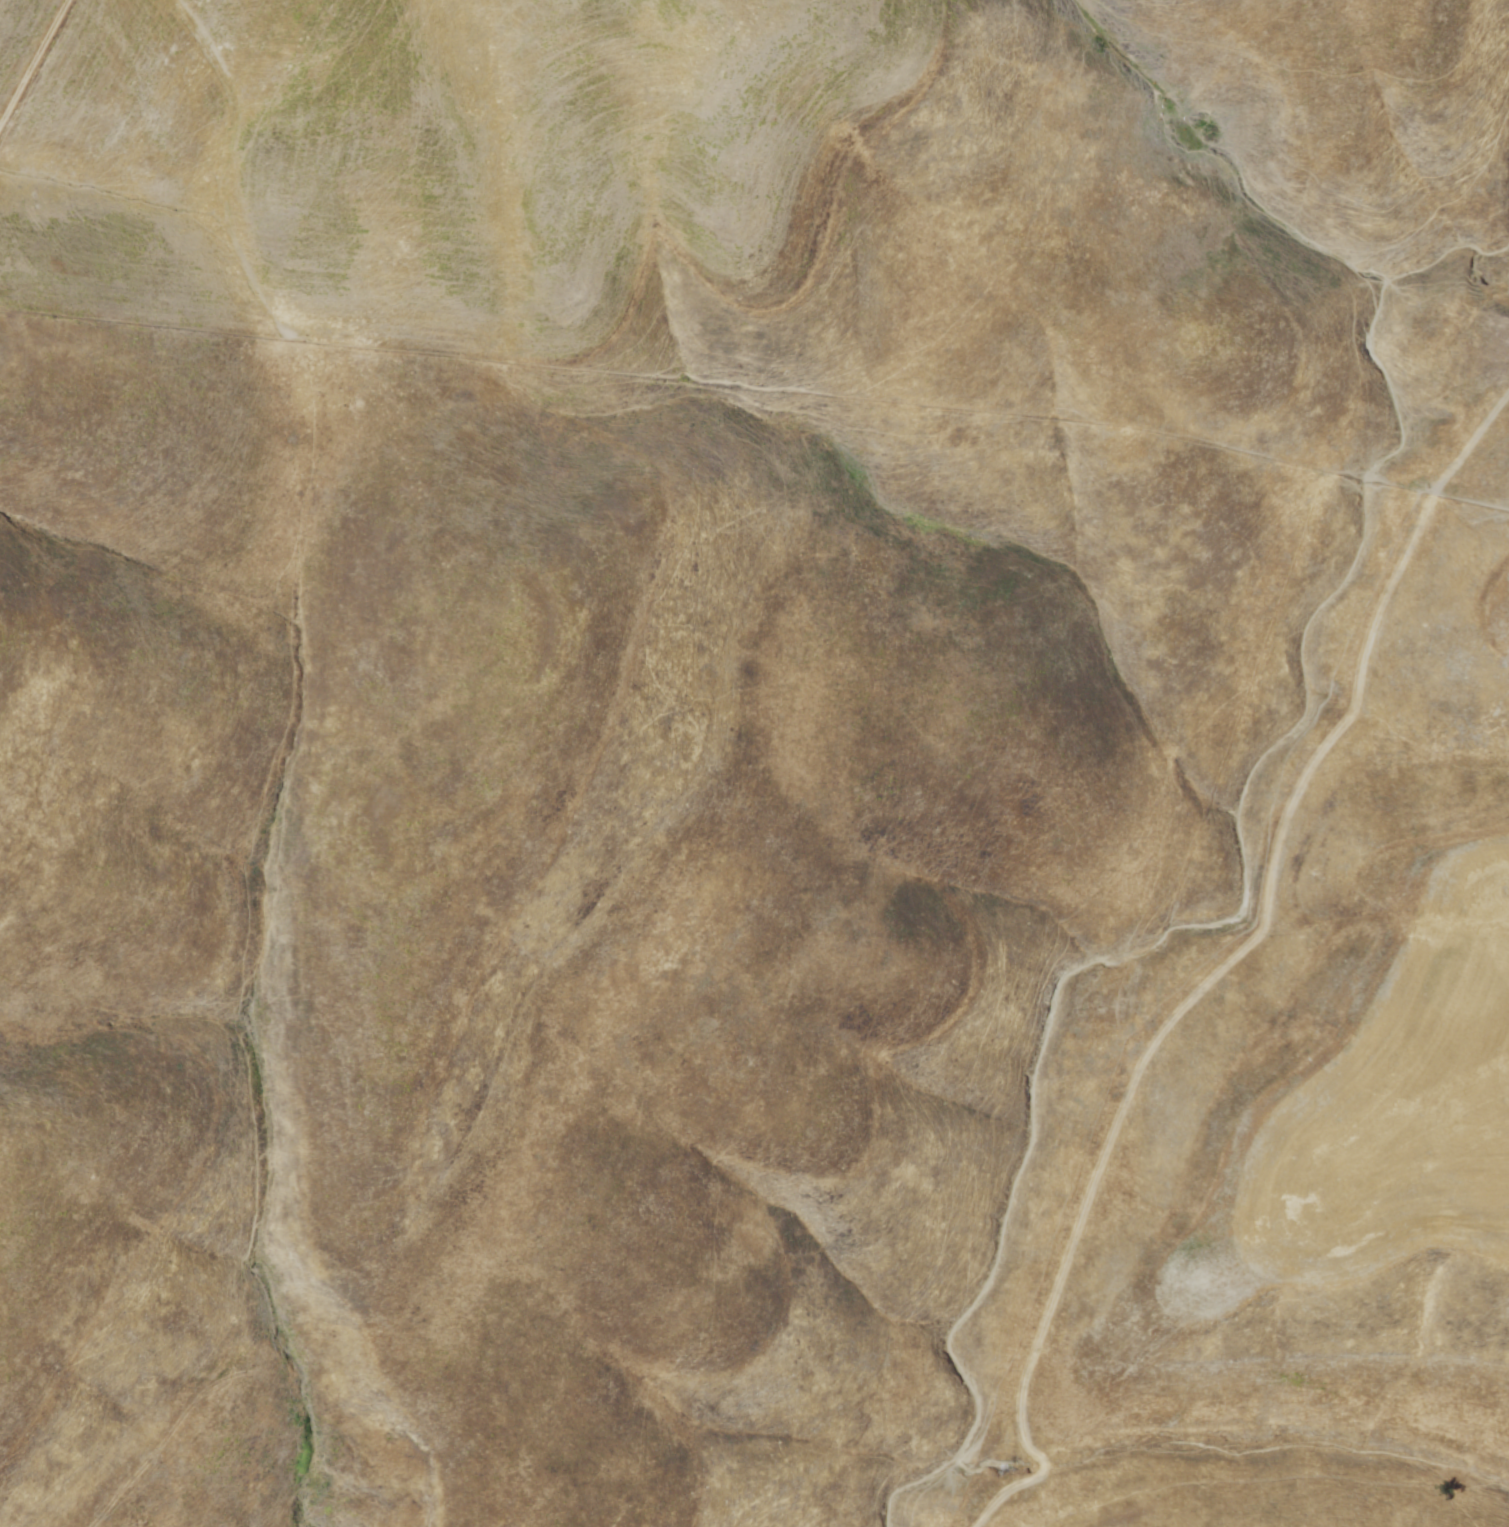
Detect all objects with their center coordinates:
road: (32, 59)

